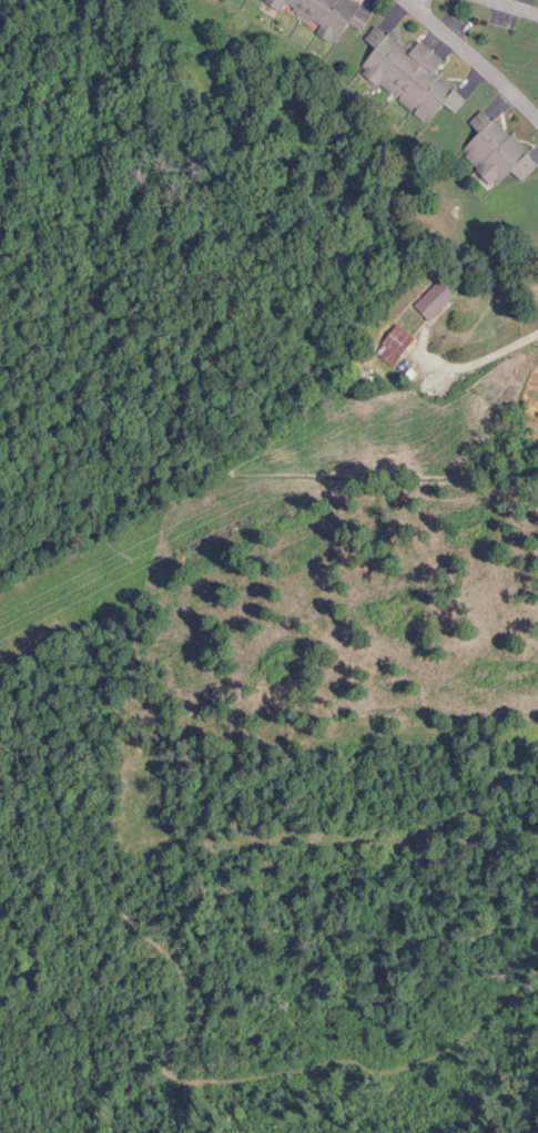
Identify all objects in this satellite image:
road: (512, 9)
building: (323, 14)
road: (471, 58)
building: (407, 75)
building: (495, 152)
building: (432, 302)
building: (395, 341)
road: (486, 364)

